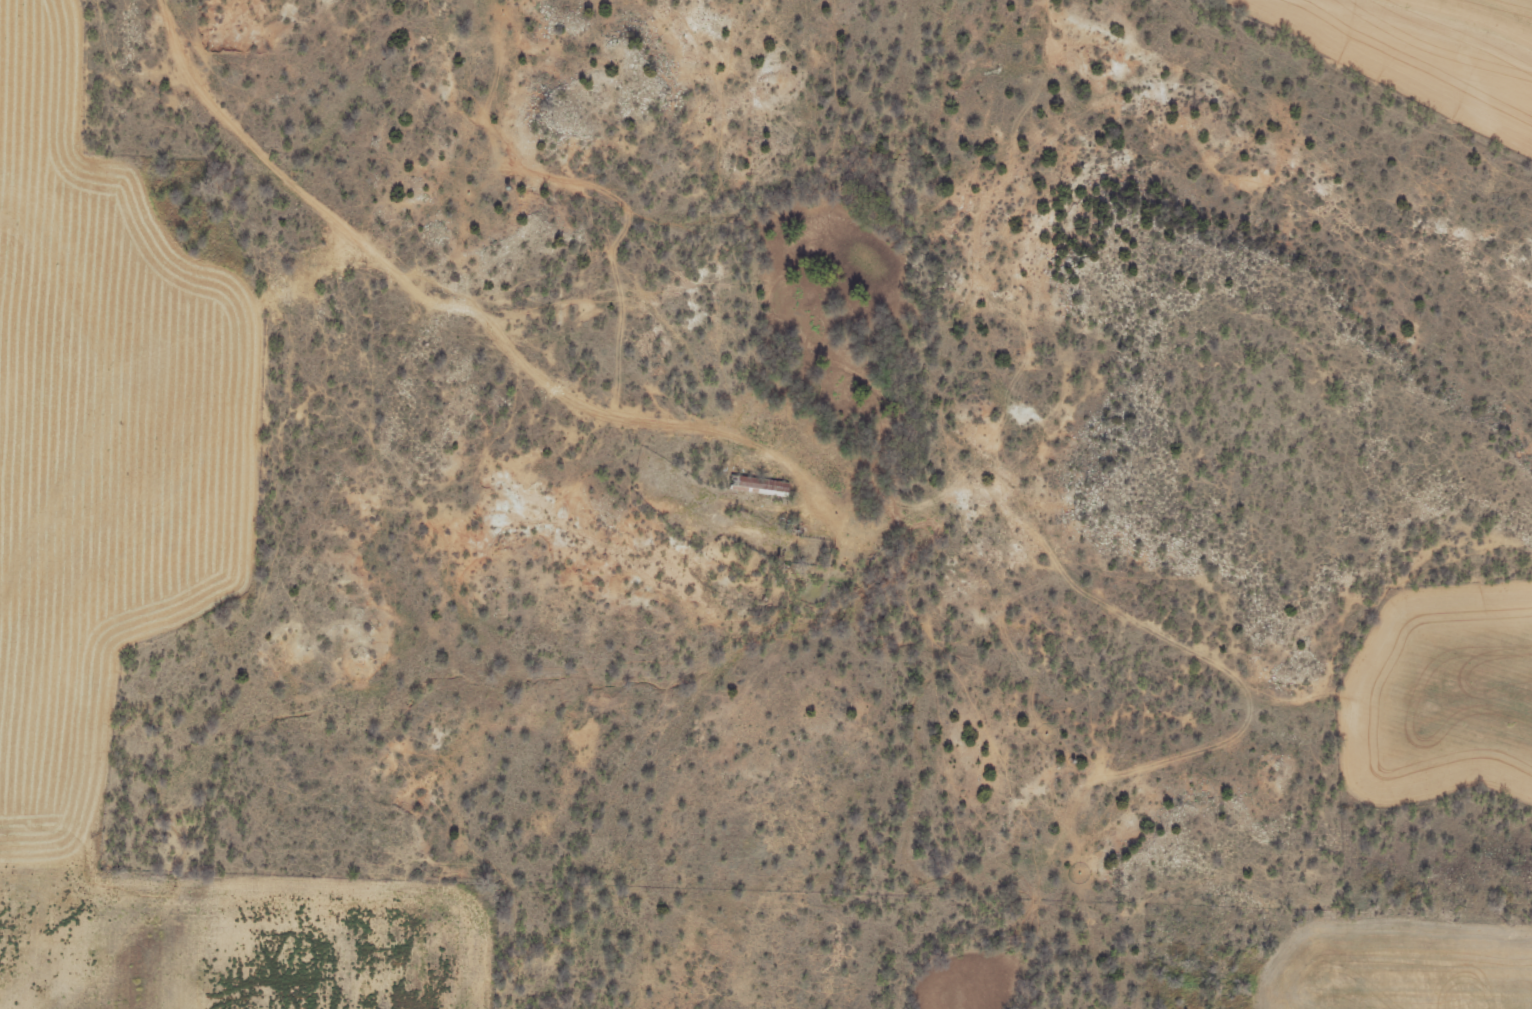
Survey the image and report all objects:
road: (431, 285)

